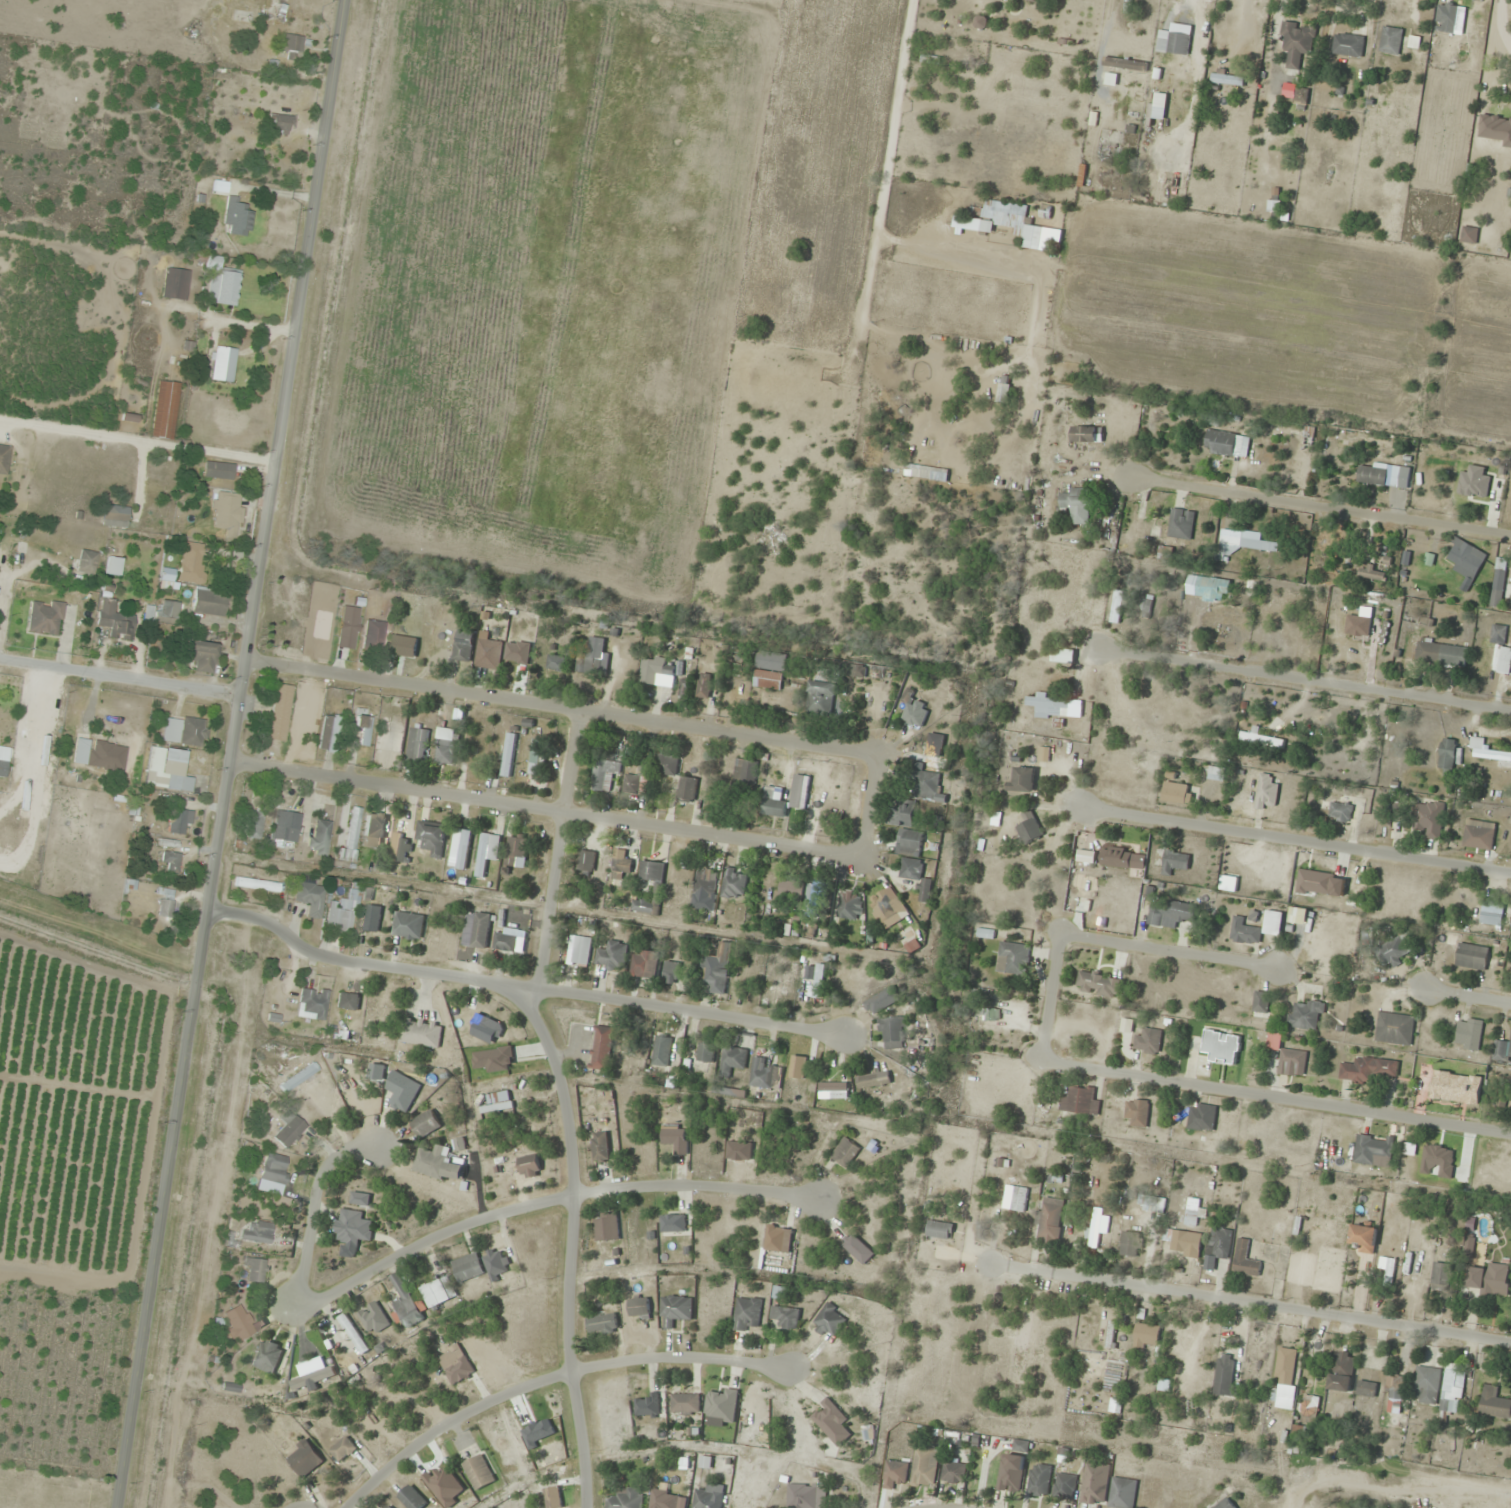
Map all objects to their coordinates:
building: (1038, 0)
building: (980, 22)
road: (1237, 28)
building: (1175, 40)
building: (1391, 40)
building: (1453, 40)
building: (1296, 42)
building: (1348, 45)
building: (291, 46)
building: (1502, 46)
building: (931, 60)
building: (1125, 64)
building: (1228, 79)
building: (1295, 93)
building: (1160, 106)
building: (280, 124)
building: (1276, 210)
building: (238, 216)
building: (1004, 223)
building: (1470, 234)
building: (176, 284)
building: (226, 286)
building: (223, 363)
building: (165, 409)
building: (1087, 434)
road: (140, 439)
building: (1227, 444)
building: (4, 458)
building: (219, 470)
building: (1384, 475)
building: (1475, 482)
building: (1497, 495)
building: (1078, 504)
road: (1321, 509)
building: (228, 511)
building: (116, 516)
building: (1181, 524)
building: (1241, 543)
building: (1165, 552)
building: (1466, 560)
building: (88, 561)
building: (192, 562)
building: (114, 565)
building: (1372, 573)
building: (1499, 583)
building: (1212, 589)
building: (210, 603)
building: (1117, 607)
building: (1145, 608)
building: (163, 612)
building: (46, 617)
building: (115, 619)
building: (1369, 620)
building: (349, 627)
building: (1499, 632)
building: (374, 634)
building: (404, 646)
building: (463, 652)
building: (1442, 653)
building: (489, 654)
building: (202, 655)
building: (597, 657)
building: (1063, 657)
building: (1502, 660)
building: (556, 663)
building: (656, 670)
building: (857, 671)
building: (769, 672)
road: (121, 678)
road: (1305, 686)
building: (704, 687)
building: (821, 697)
building: (1055, 707)
road: (563, 709)
building: (280, 712)
building: (364, 728)
building: (185, 730)
building: (330, 732)
building: (1191, 737)
building: (1262, 740)
building: (418, 745)
building: (446, 746)
building: (1486, 750)
building: (935, 751)
building: (100, 754)
road: (233, 754)
building: (1044, 754)
building: (1447, 755)
building: (537, 757)
building: (4, 760)
building: (666, 764)
building: (746, 772)
building: (1216, 774)
building: (604, 775)
building: (1024, 779)
building: (176, 781)
building: (638, 781)
building: (928, 787)
building: (687, 790)
building: (800, 792)
building: (1267, 792)
building: (1177, 793)
building: (774, 801)
road: (870, 807)
road: (548, 811)
building: (1341, 812)
building: (1430, 819)
building: (179, 821)
building: (253, 825)
building: (286, 826)
building: (907, 827)
building: (1027, 828)
building: (373, 830)
building: (352, 836)
building: (319, 837)
building: (1479, 838)
building: (432, 839)
road: (1296, 840)
building: (401, 848)
building: (517, 851)
building: (487, 852)
building: (1116, 858)
building: (170, 860)
building: (587, 861)
building: (1175, 861)
building: (620, 865)
building: (916, 875)
building: (705, 883)
building: (1315, 883)
building: (257, 884)
building: (734, 884)
building: (790, 888)
building: (658, 890)
building: (311, 897)
building: (815, 898)
building: (166, 903)
building: (851, 906)
building: (887, 907)
building: (1173, 914)
building: (1299, 916)
building: (1491, 918)
building: (339, 919)
building: (370, 922)
building: (408, 926)
building: (477, 930)
building: (1245, 932)
building: (505, 941)
building: (579, 951)
building: (1392, 952)
building: (612, 956)
building: (1472, 957)
building: (1014, 959)
building: (647, 964)
building: (671, 972)
building: (715, 973)
road: (1288, 973)
building: (786, 977)
building: (1099, 984)
road: (520, 986)
building: (881, 1000)
building: (348, 1001)
building: (313, 1003)
building: (1261, 1003)
building: (992, 1014)
building: (1306, 1016)
building: (1127, 1027)
building: (1395, 1029)
building: (420, 1033)
building: (893, 1033)
building: (1469, 1034)
building: (1149, 1042)
building: (632, 1044)
building: (1222, 1047)
building: (602, 1048)
building: (1502, 1050)
building: (661, 1051)
building: (705, 1053)
building: (1288, 1058)
building: (733, 1059)
building: (1368, 1070)
building: (761, 1074)
building: (873, 1080)
building: (298, 1086)
building: (1456, 1087)
road: (1219, 1088)
building: (402, 1091)
building: (1079, 1101)
building: (498, 1102)
road: (565, 1102)
building: (1137, 1113)
building: (1202, 1117)
building: (426, 1124)
building: (290, 1131)
building: (675, 1138)
building: (601, 1147)
building: (1374, 1149)
building: (845, 1154)
building: (438, 1164)
building: (274, 1167)
building: (530, 1167)
building: (360, 1198)
building: (1017, 1199)
road: (545, 1202)
building: (1151, 1204)
building: (1194, 1212)
road: (314, 1213)
building: (1051, 1222)
building: (673, 1223)
building: (607, 1226)
building: (1096, 1227)
building: (353, 1228)
building: (257, 1231)
building: (939, 1231)
building: (629, 1237)
building: (1364, 1238)
building: (778, 1239)
building: (1184, 1241)
building: (1220, 1243)
building: (1130, 1244)
building: (1245, 1260)
building: (496, 1265)
building: (467, 1268)
building: (255, 1269)
building: (1442, 1275)
building: (1490, 1280)
building: (435, 1294)
road: (1251, 1302)
building: (405, 1303)
building: (640, 1308)
building: (675, 1310)
building: (747, 1314)
building: (786, 1317)
building: (373, 1319)
building: (829, 1321)
building: (238, 1323)
building: (603, 1325)
building: (353, 1334)
building: (1146, 1337)
building: (267, 1356)
road: (684, 1358)
building: (455, 1365)
building: (1341, 1371)
building: (1225, 1377)
building: (313, 1378)
building: (1284, 1380)
building: (1427, 1385)
building: (1394, 1388)
building: (1451, 1392)
building: (1366, 1393)
building: (1494, 1403)
building: (685, 1404)
building: (721, 1404)
building: (649, 1405)
building: (1308, 1409)
building: (831, 1421)
road: (450, 1424)
building: (1021, 1446)
building: (343, 1449)
building: (304, 1459)
building: (925, 1466)
building: (478, 1472)
building: (954, 1472)
building: (894, 1474)
building: (1010, 1476)
building: (1040, 1480)
building: (1095, 1483)
building: (1065, 1486)
building: (1122, 1493)
building: (807, 1496)
building: (411, 1498)
building: (627, 1498)
building: (707, 1499)
building: (1225, 1504)
building: (389, 1506)

